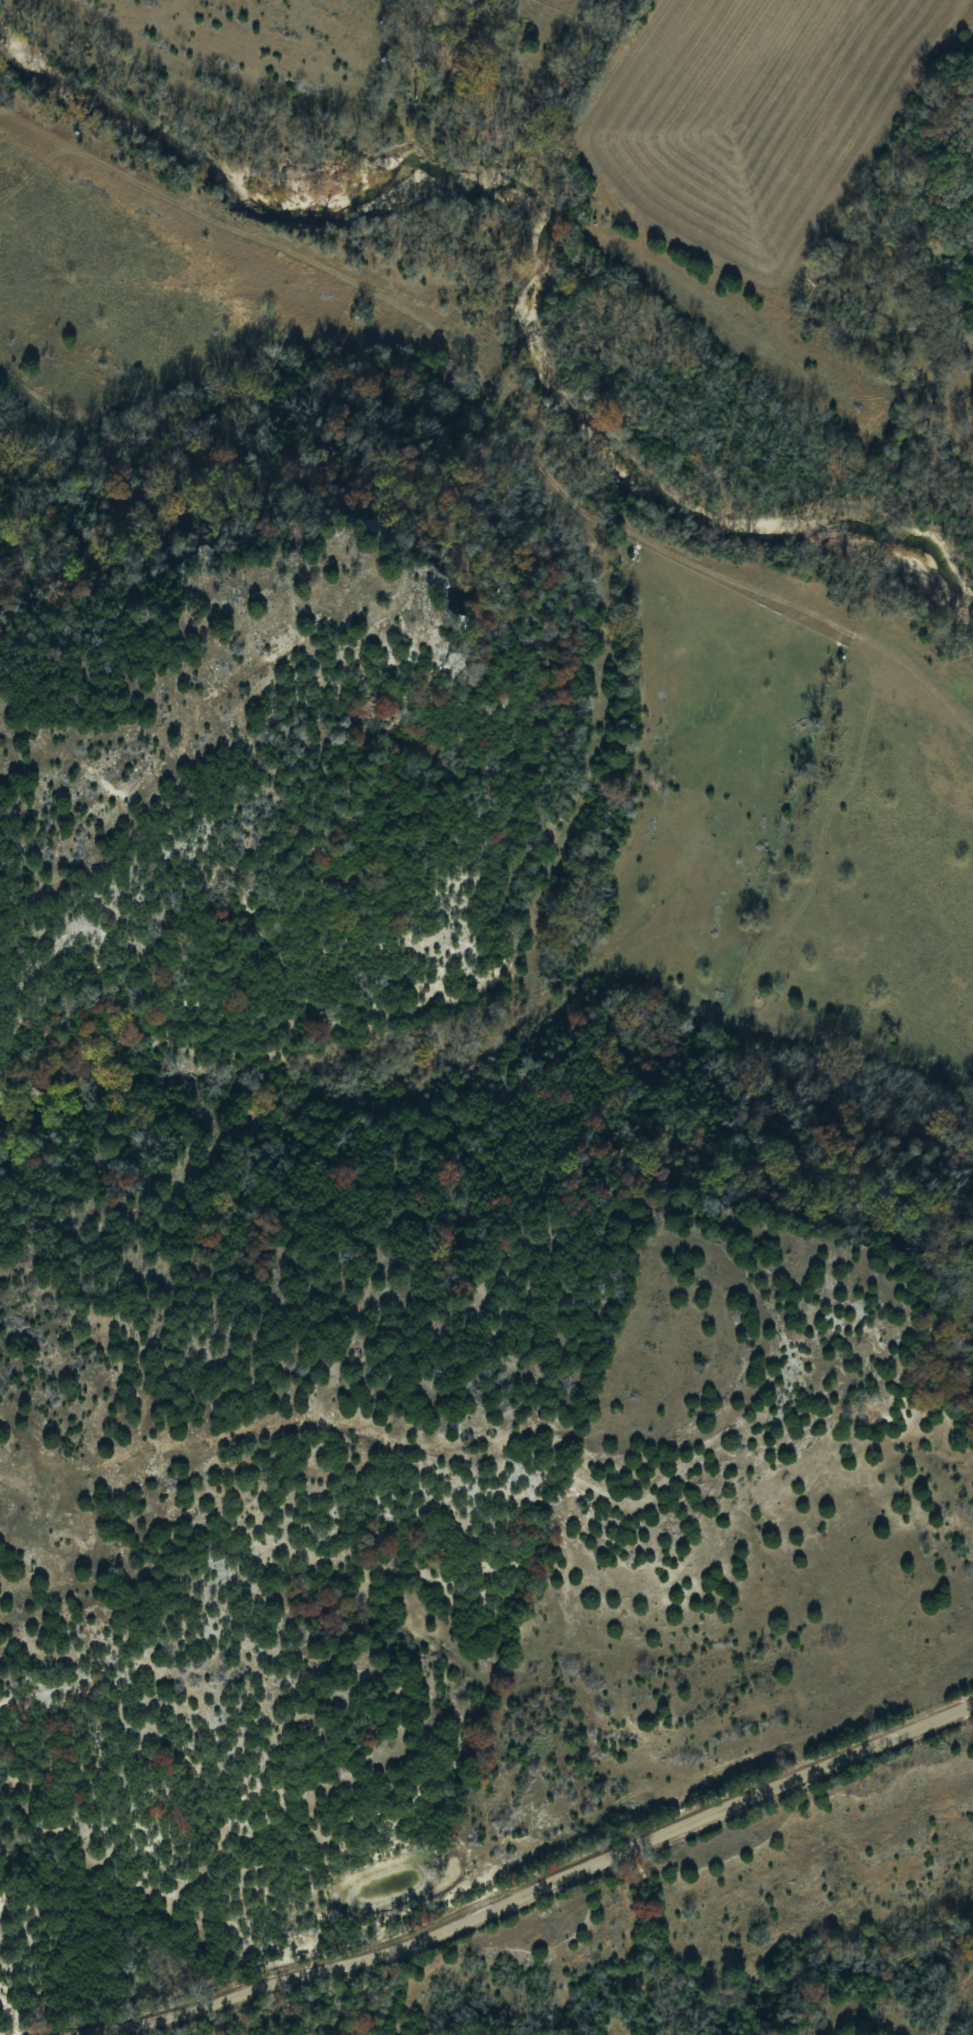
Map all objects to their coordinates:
road: (532, 1895)

